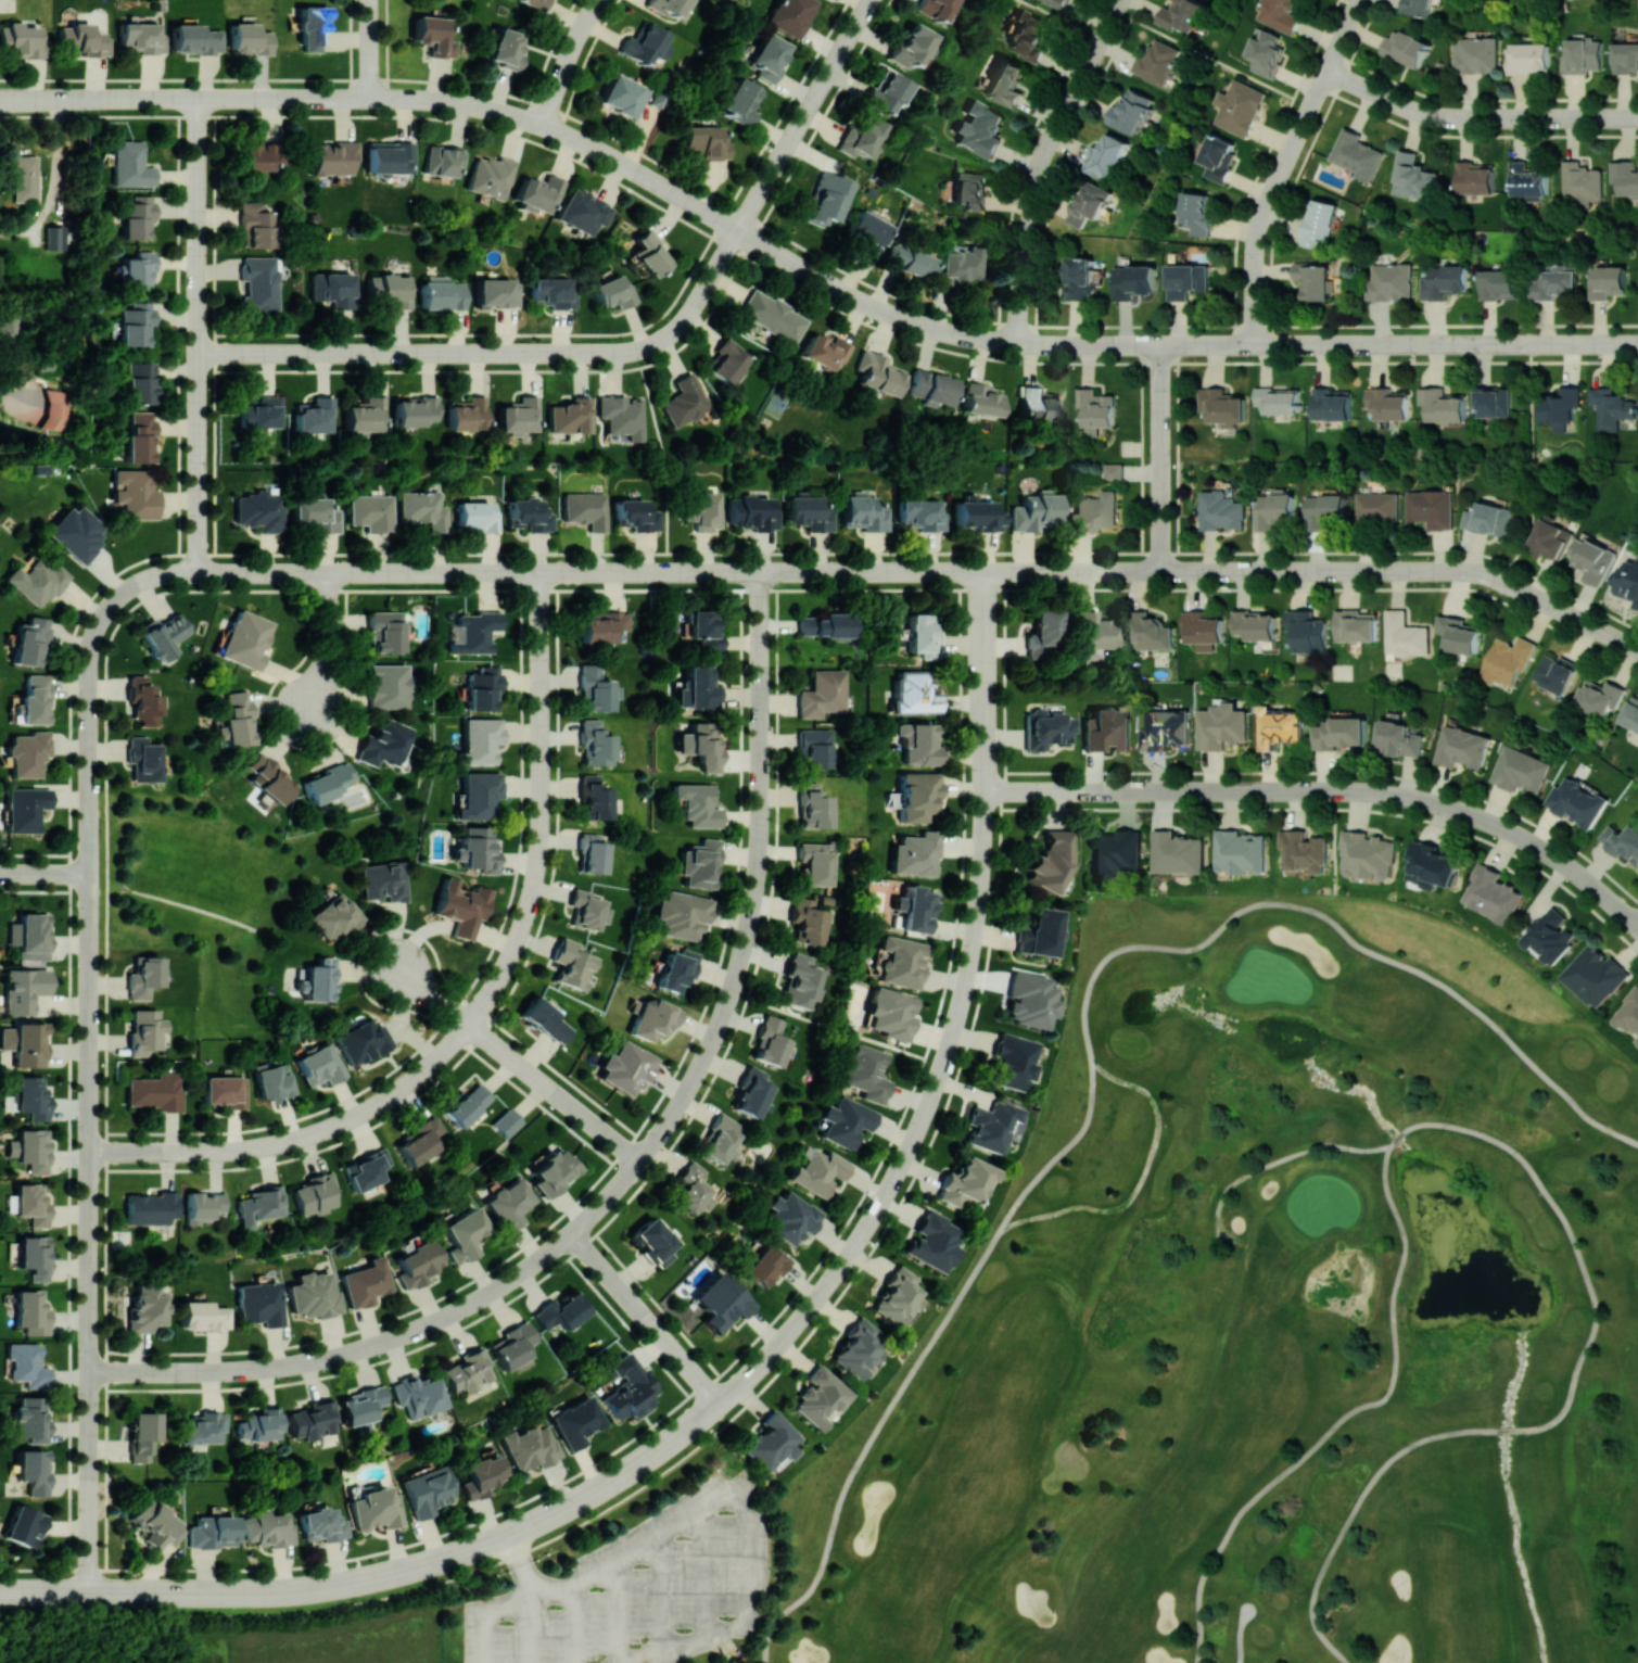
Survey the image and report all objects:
building: (1057, 2)
building: (536, 3)
building: (1418, 7)
building: (935, 8)
building: (1181, 14)
building: (1280, 14)
building: (791, 15)
road: (1052, 15)
building: (312, 28)
building: (1029, 35)
building: (433, 36)
building: (142, 37)
building: (249, 38)
building: (20, 39)
building: (84, 39)
building: (194, 39)
building: (646, 43)
building: (912, 47)
building: (1406, 47)
building: (505, 48)
road: (371, 49)
building: (1265, 53)
building: (1474, 54)
building: (1580, 55)
building: (767, 56)
road: (1210, 56)
building: (1528, 58)
building: (1625, 58)
road: (568, 60)
building: (1157, 62)
building: (1005, 81)
building: (887, 92)
building: (623, 96)
road: (319, 98)
road: (27, 99)
road: (72, 99)
road: (183, 99)
building: (740, 101)
building: (1237, 106)
building: (1130, 111)
road: (807, 115)
road: (1476, 116)
building: (979, 128)
building: (862, 138)
building: (706, 141)
building: (1106, 154)
building: (1356, 154)
building: (257, 155)
building: (332, 157)
building: (389, 157)
building: (1217, 157)
building: (442, 160)
road: (1018, 161)
road: (1039, 162)
road: (1055, 163)
building: (130, 164)
road: (1282, 166)
building: (491, 176)
building: (1412, 177)
building: (1625, 177)
building: (23, 178)
building: (1475, 178)
building: (1527, 180)
road: (54, 181)
building: (1579, 185)
building: (969, 190)
building: (537, 192)
building: (827, 199)
building: (1089, 203)
building: (583, 212)
building: (1196, 212)
road: (715, 216)
building: (137, 217)
building: (1319, 224)
building: (255, 225)
road: (199, 226)
building: (868, 231)
building: (54, 236)
building: (649, 253)
building: (909, 261)
building: (960, 263)
building: (138, 269)
building: (1079, 278)
building: (1186, 280)
building: (1315, 280)
building: (1133, 281)
building: (1389, 281)
building: (1443, 281)
building: (1552, 281)
building: (1607, 281)
building: (259, 283)
building: (1498, 284)
building: (333, 288)
building: (392, 290)
building: (554, 291)
building: (497, 292)
building: (613, 292)
building: (443, 293)
building: (773, 315)
building: (135, 322)
road: (1373, 343)
road: (1089, 345)
building: (825, 352)
road: (499, 353)
building: (727, 361)
building: (878, 373)
building: (140, 382)
building: (931, 388)
building: (982, 399)
building: (1278, 399)
building: (1491, 402)
building: (686, 403)
building: (1386, 403)
building: (1331, 404)
building: (1442, 404)
building: (1039, 405)
building: (1222, 406)
building: (1560, 406)
road: (199, 407)
building: (1611, 407)
building: (58, 409)
building: (1096, 409)
building: (415, 410)
building: (261, 412)
building: (468, 414)
building: (314, 415)
building: (366, 415)
building: (518, 416)
building: (570, 416)
building: (621, 416)
building: (139, 437)
road: (1528, 457)
road: (1157, 458)
road: (668, 459)
building: (1113, 471)
building: (135, 493)
building: (1377, 507)
building: (1432, 508)
building: (424, 509)
building: (586, 509)
building: (702, 509)
building: (1274, 509)
building: (1034, 510)
building: (1221, 510)
building: (1325, 510)
building: (259, 511)
building: (371, 511)
building: (809, 511)
building: (1093, 511)
building: (316, 512)
building: (752, 512)
building: (865, 513)
building: (922, 513)
building: (977, 513)
building: (530, 515)
building: (637, 515)
building: (478, 516)
road: (199, 517)
building: (1488, 519)
building: (77, 532)
building: (1551, 537)
building: (1591, 559)
road: (1363, 571)
road: (644, 572)
road: (1067, 572)
road: (212, 573)
road: (167, 574)
building: (1627, 581)
building: (37, 582)
road: (761, 615)
road: (985, 619)
building: (826, 624)
building: (1254, 624)
building: (601, 625)
building: (1355, 625)
building: (1203, 629)
building: (702, 630)
building: (1307, 630)
building: (385, 631)
building: (475, 632)
building: (1043, 633)
building: (1152, 633)
building: (163, 634)
building: (1097, 634)
building: (1404, 634)
building: (1458, 634)
building: (923, 635)
building: (245, 639)
building: (29, 642)
road: (328, 644)
building: (1507, 661)
road: (761, 662)
road: (985, 673)
building: (1556, 673)
road: (90, 677)
building: (388, 686)
building: (700, 687)
building: (483, 688)
building: (597, 689)
building: (914, 693)
building: (823, 694)
building: (1599, 697)
building: (34, 699)
building: (143, 700)
building: (1631, 713)
building: (236, 719)
building: (1221, 726)
building: (1279, 727)
building: (1046, 728)
building: (1106, 729)
building: (1165, 729)
building: (1338, 733)
road: (985, 736)
building: (1399, 738)
building: (480, 740)
building: (382, 742)
building: (596, 744)
building: (917, 744)
building: (700, 746)
building: (1462, 747)
building: (815, 748)
building: (27, 753)
building: (143, 759)
building: (1521, 770)
building: (267, 778)
building: (326, 782)
road: (1032, 791)
road: (1083, 791)
road: (1382, 794)
building: (479, 795)
building: (917, 795)
building: (594, 798)
building: (1576, 802)
building: (697, 804)
building: (813, 807)
building: (24, 808)
road: (1339, 808)
building: (1622, 841)
building: (477, 848)
building: (1304, 850)
road: (1333, 850)
building: (1241, 851)
building: (1117, 852)
building: (593, 853)
building: (1178, 853)
building: (915, 854)
building: (1367, 855)
building: (1050, 861)
building: (814, 863)
building: (700, 864)
building: (1432, 865)
road: (90, 869)
road: (45, 873)
building: (382, 880)
park: (208, 883)
building: (1494, 894)
building: (461, 906)
building: (914, 909)
building: (588, 910)
building: (682, 914)
building: (333, 915)
building: (807, 922)
building: (1039, 931)
road: (1342, 931)
building: (33, 936)
building: (1550, 937)
road: (510, 956)
building: (900, 961)
building: (572, 964)
building: (677, 969)
building: (1596, 975)
building: (143, 977)
building: (317, 979)
building: (801, 982)
building: (24, 989)
road: (430, 993)
building: (1030, 999)
building: (891, 1013)
building: (1629, 1013)
building: (652, 1018)
building: (547, 1020)
road: (835, 1027)
building: (144, 1031)
building: (361, 1040)
building: (1637, 1041)
building: (25, 1042)
building: (771, 1042)
building: (1012, 1061)
building: (319, 1065)
building: (625, 1067)
building: (864, 1072)
building: (271, 1080)
building: (224, 1090)
building: (156, 1091)
building: (751, 1092)
road: (556, 1093)
building: (31, 1096)
building: (466, 1104)
building: (843, 1121)
building: (507, 1122)
building: (991, 1125)
road: (915, 1135)
road: (1397, 1138)
building: (722, 1139)
building: (420, 1140)
building: (29, 1150)
road: (135, 1152)
road: (189, 1152)
road: (1281, 1158)
building: (367, 1169)
building: (553, 1171)
building: (816, 1171)
road: (1141, 1181)
building: (963, 1182)
building: (694, 1190)
building: (315, 1193)
road: (610, 1196)
road: (90, 1197)
building: (31, 1203)
building: (510, 1203)
building: (261, 1205)
building: (203, 1206)
building: (151, 1207)
building: (789, 1217)
building: (462, 1233)
building: (653, 1242)
building: (932, 1242)
road: (1573, 1243)
building: (34, 1256)
building: (418, 1262)
building: (762, 1265)
building: (365, 1282)
building: (314, 1295)
building: (897, 1297)
building: (720, 1302)
building: (259, 1303)
building: (144, 1306)
building: (30, 1311)
building: (560, 1311)
building: (202, 1316)
road: (645, 1318)
road: (750, 1343)
building: (513, 1345)
building: (856, 1348)
road: (924, 1357)
park: (1180, 1358)
building: (26, 1364)
building: (468, 1371)
building: (628, 1388)
building: (418, 1395)
building: (818, 1397)
building: (361, 1406)
road: (1346, 1416)
building: (31, 1419)
building: (313, 1419)
building: (576, 1421)
building: (259, 1424)
building: (203, 1427)
road: (1507, 1431)
building: (142, 1434)
building: (771, 1442)
building: (530, 1446)
road: (89, 1464)
building: (33, 1470)
building: (481, 1475)
building: (427, 1490)
road: (748, 1503)
building: (376, 1509)
road: (1354, 1511)
building: (155, 1523)
building: (321, 1524)
building: (24, 1526)
building: (268, 1527)
building: (213, 1532)
road: (89, 1537)
road: (485, 1544)
road: (522, 1565)
parking lot: (644, 1588)
road: (119, 1591)
road: (488, 1615)
road: (1240, 1634)

